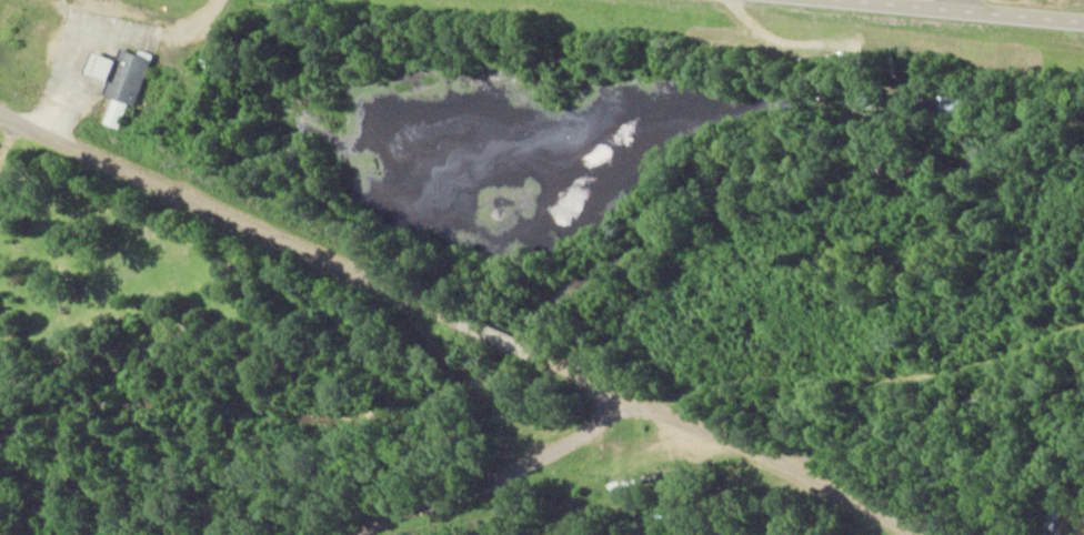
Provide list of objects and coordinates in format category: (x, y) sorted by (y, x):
road: (947, 4)
road: (966, 10)
building: (126, 80)
building: (1, 320)
road: (458, 321)
road: (499, 476)

